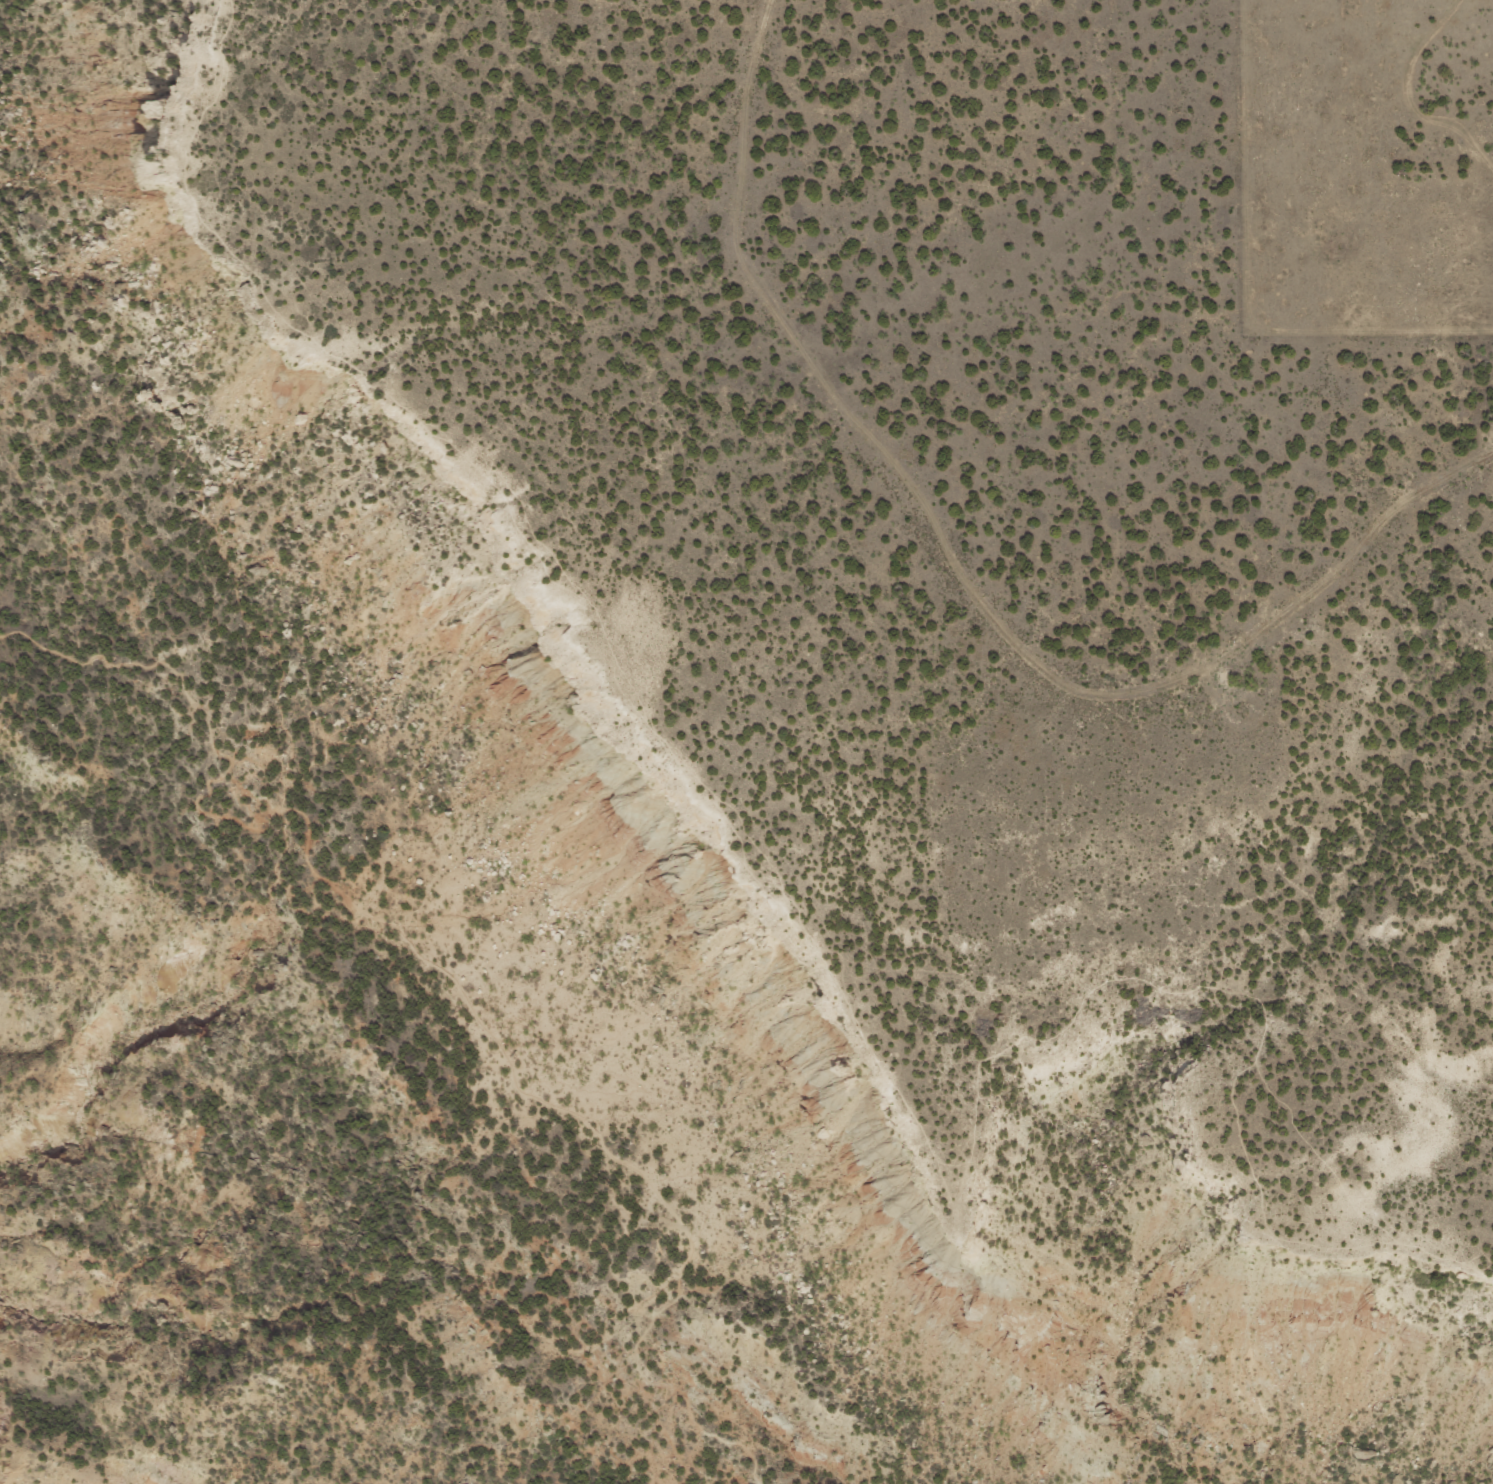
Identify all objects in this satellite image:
road: (966, 576)
road: (1012, 832)
road: (817, 936)
road: (454, 979)

